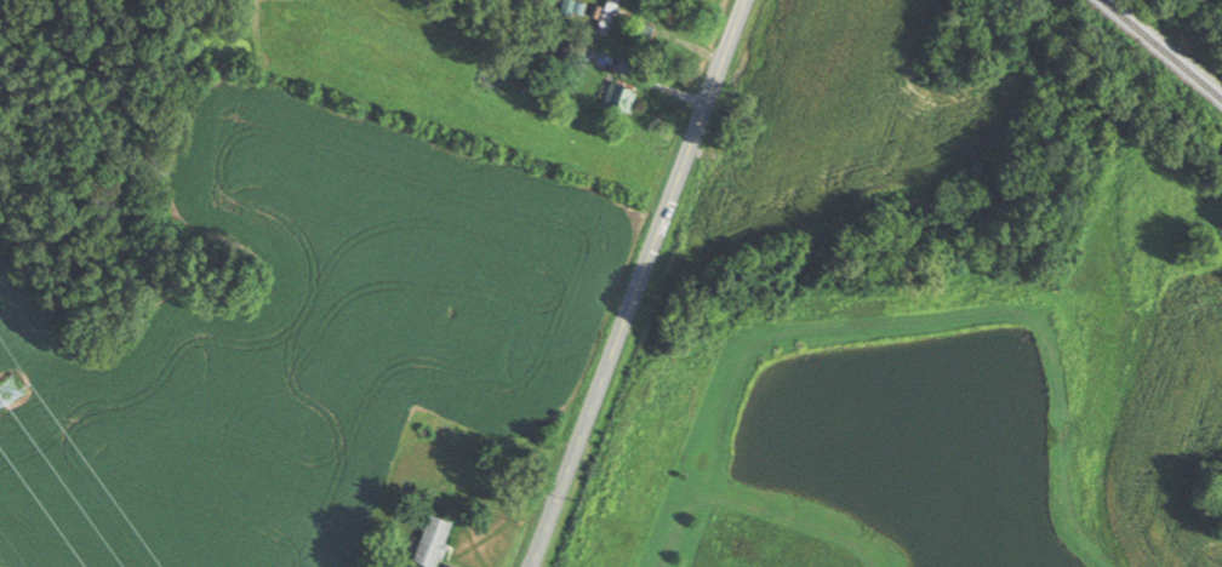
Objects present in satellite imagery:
building: (607, 16)
railway: (1164, 48)
building: (621, 98)
road: (638, 283)
power tower: (10, 390)
building: (434, 542)

